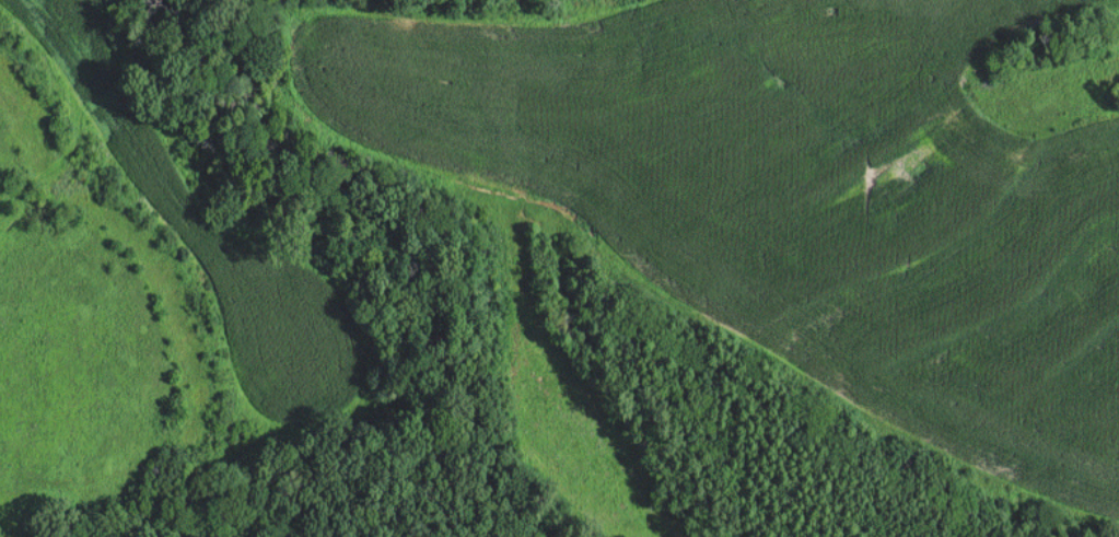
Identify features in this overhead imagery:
road: (70, 119)

